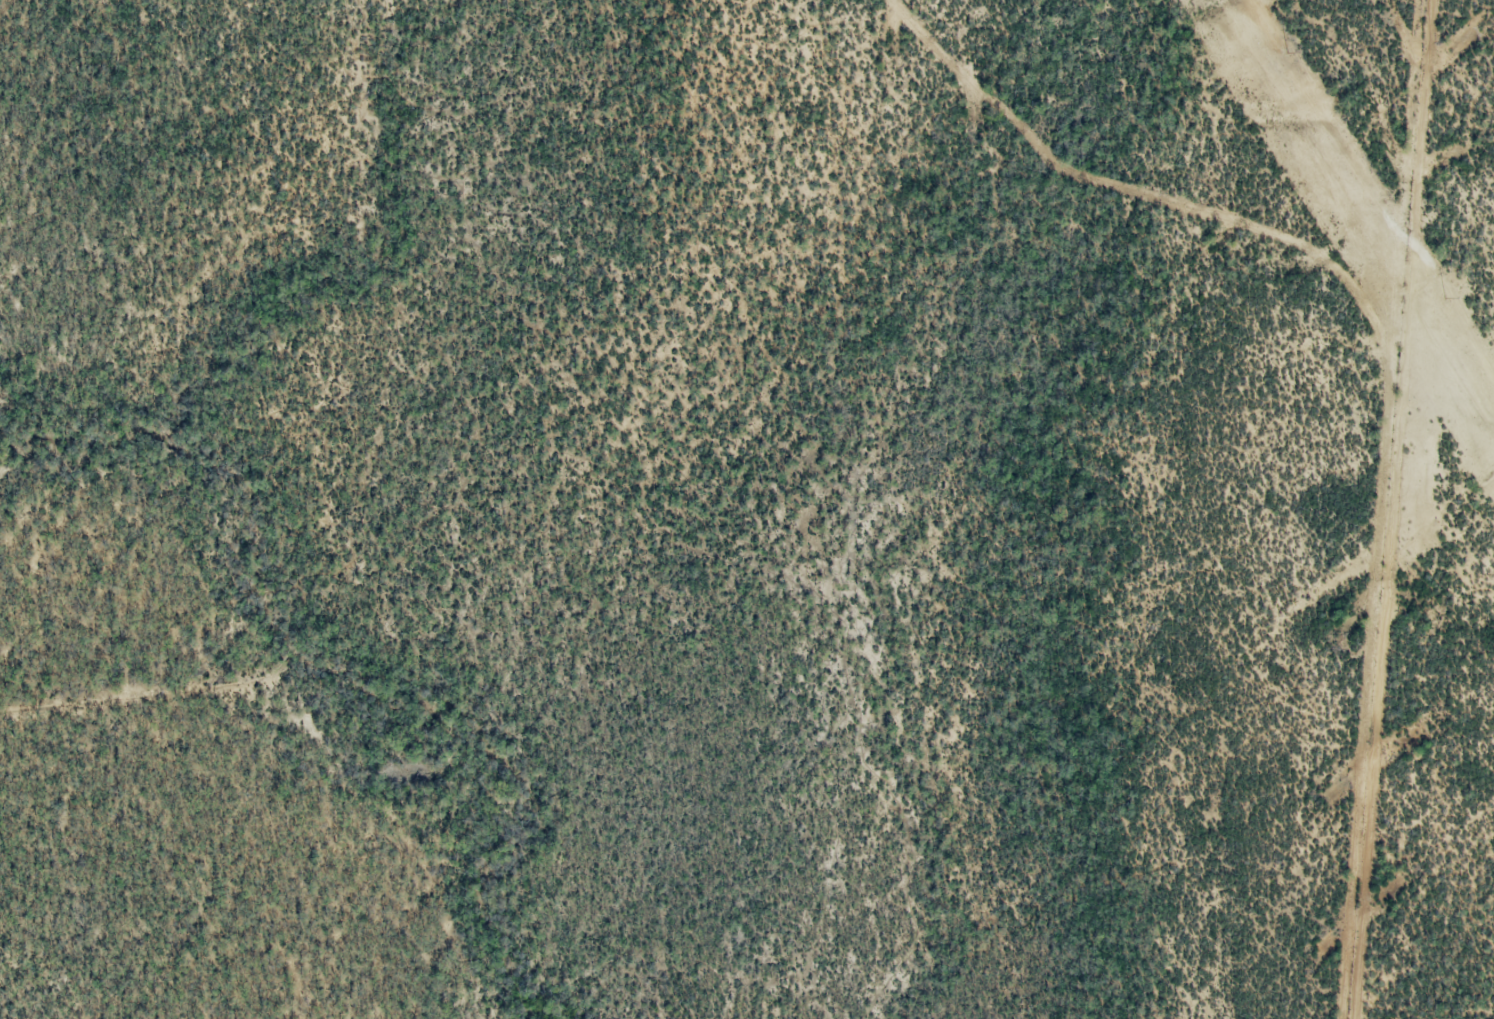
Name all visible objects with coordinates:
power tower: (1286, 51)
power tower: (1445, 296)

